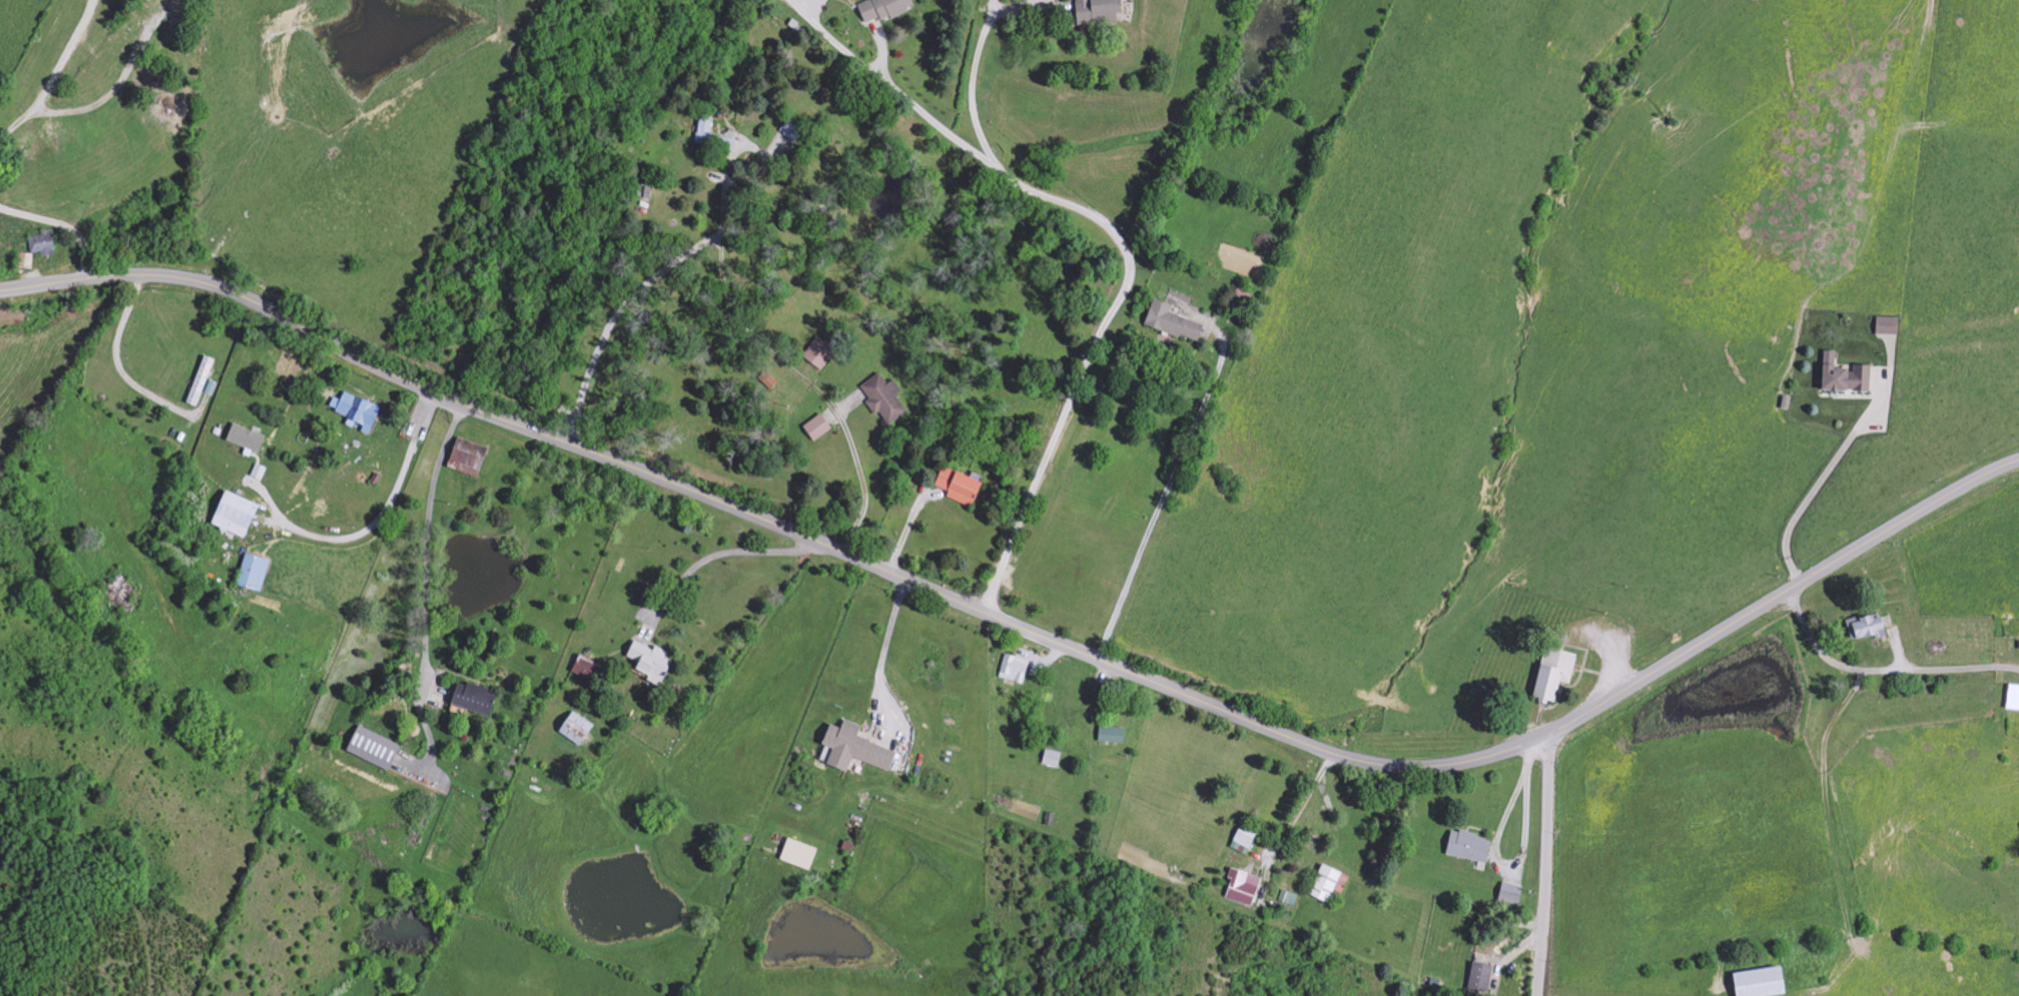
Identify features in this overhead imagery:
building: (883, 9)
building: (1097, 11)
road: (909, 39)
road: (46, 45)
building: (168, 106)
building: (705, 132)
building: (725, 144)
building: (42, 243)
building: (26, 261)
road: (4, 267)
road: (1086, 279)
building: (1173, 322)
building: (1888, 326)
building: (819, 354)
road: (116, 363)
building: (1845, 375)
building: (201, 381)
building: (884, 398)
building: (357, 411)
building: (818, 427)
building: (246, 438)
building: (467, 457)
road: (1822, 479)
building: (960, 485)
road: (1165, 487)
building: (234, 514)
road: (728, 553)
building: (253, 572)
building: (124, 595)
building: (1867, 627)
road: (1025, 630)
road: (880, 651)
building: (583, 668)
road: (1883, 668)
building: (1015, 669)
building: (1553, 673)
building: (2014, 695)
building: (472, 699)
building: (576, 728)
building: (1112, 735)
building: (373, 748)
building: (855, 748)
building: (1052, 758)
road: (1298, 804)
building: (1244, 841)
building: (1469, 846)
building: (799, 854)
road: (1548, 865)
building: (1326, 884)
building: (1342, 884)
building: (1243, 887)
building: (1511, 894)
building: (1289, 898)
building: (1480, 976)
building: (1760, 983)

